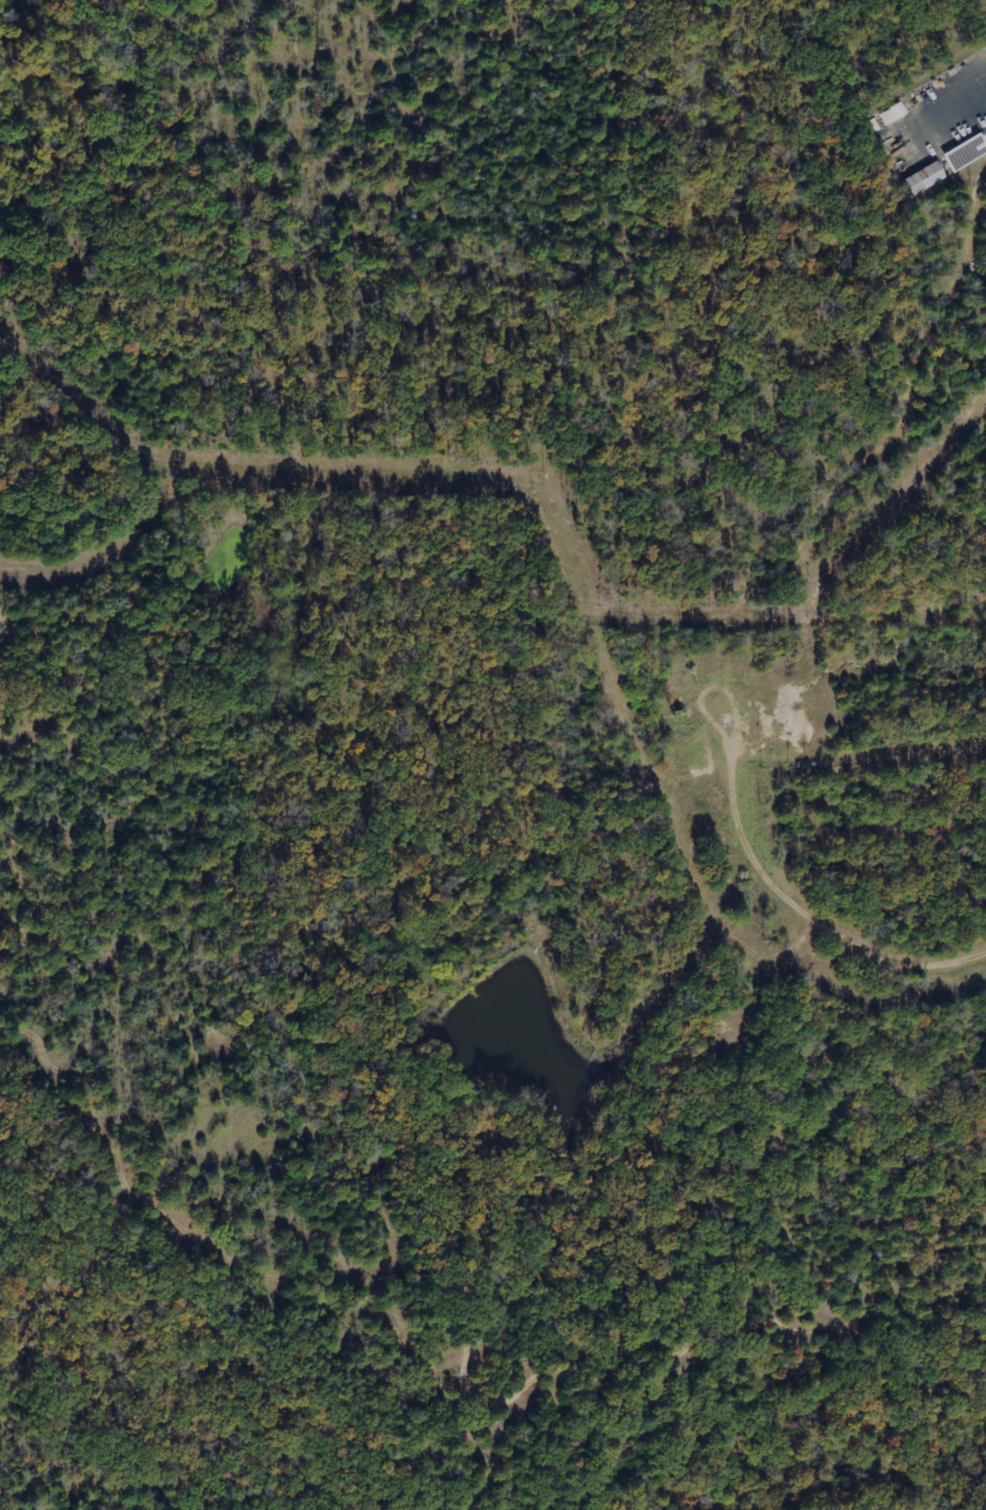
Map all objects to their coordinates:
road: (968, 114)
building: (923, 179)
park: (491, 279)

